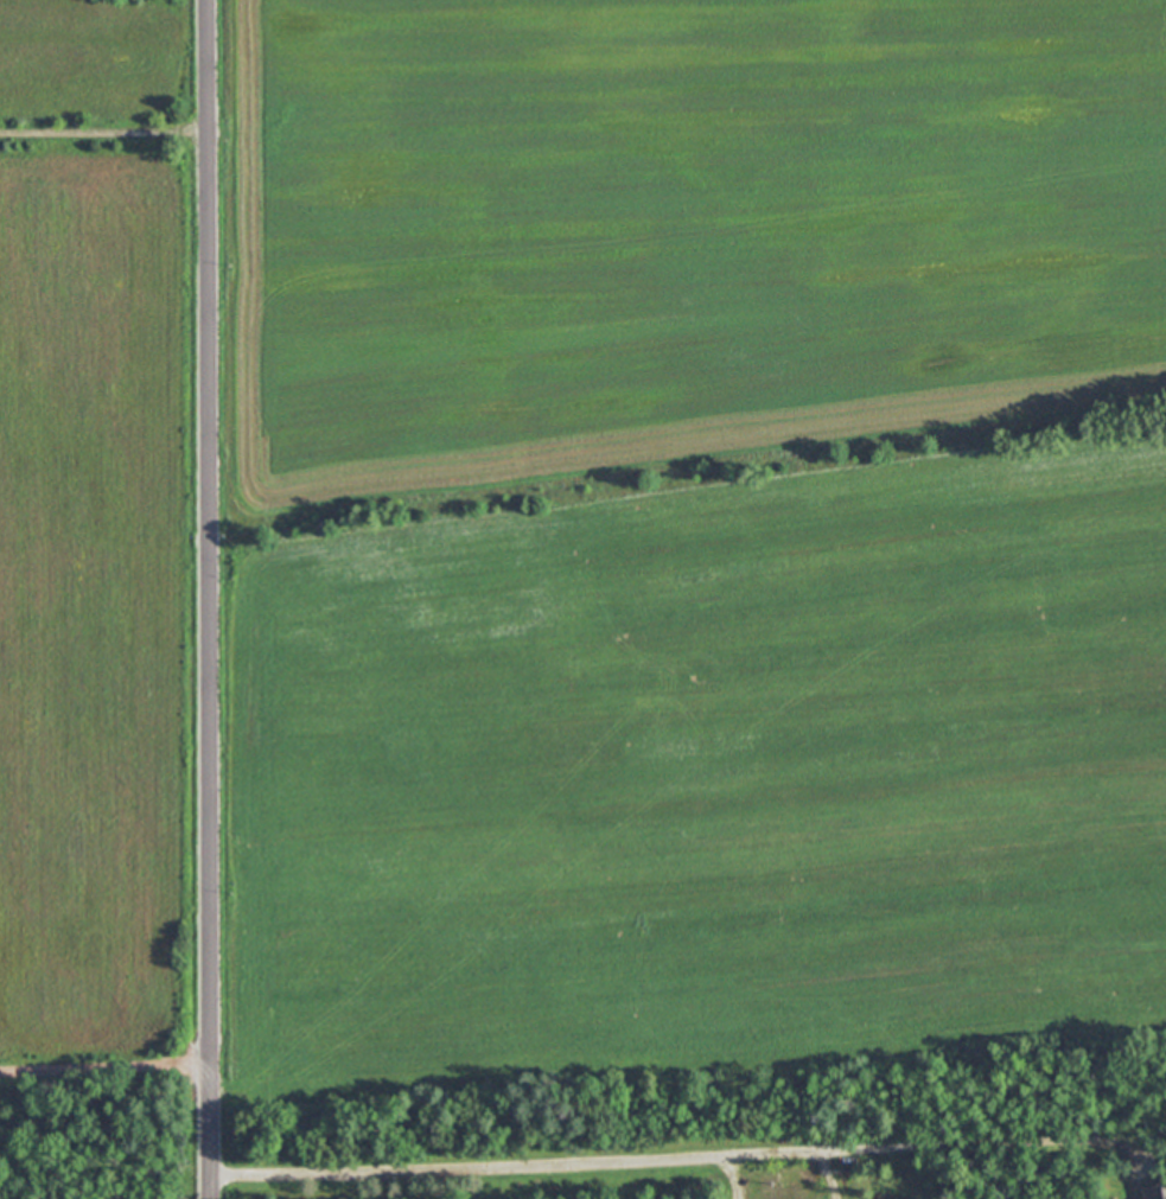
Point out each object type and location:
road: (104, 130)
road: (210, 599)
road: (106, 1071)
road: (673, 1157)
road: (829, 1175)
road: (735, 1176)
building: (1155, 1191)

